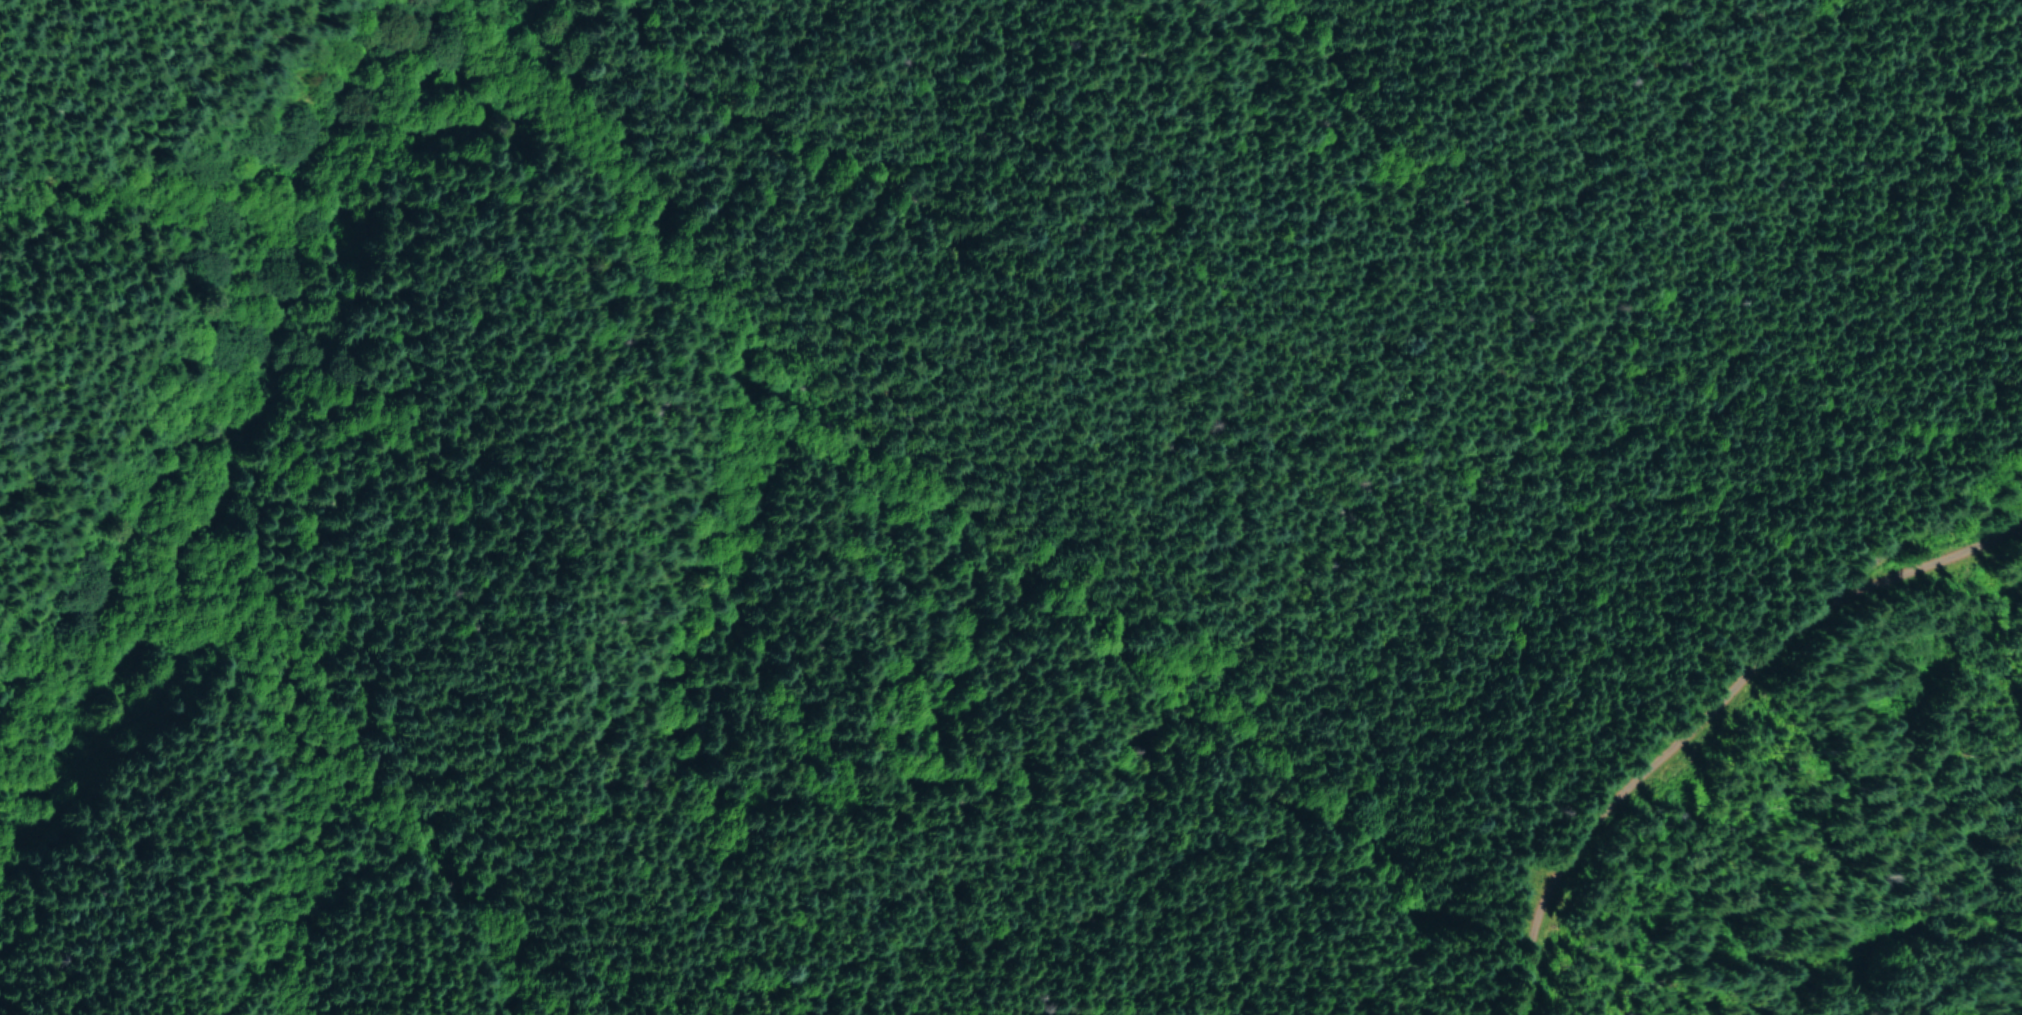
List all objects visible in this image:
road: (1740, 713)

